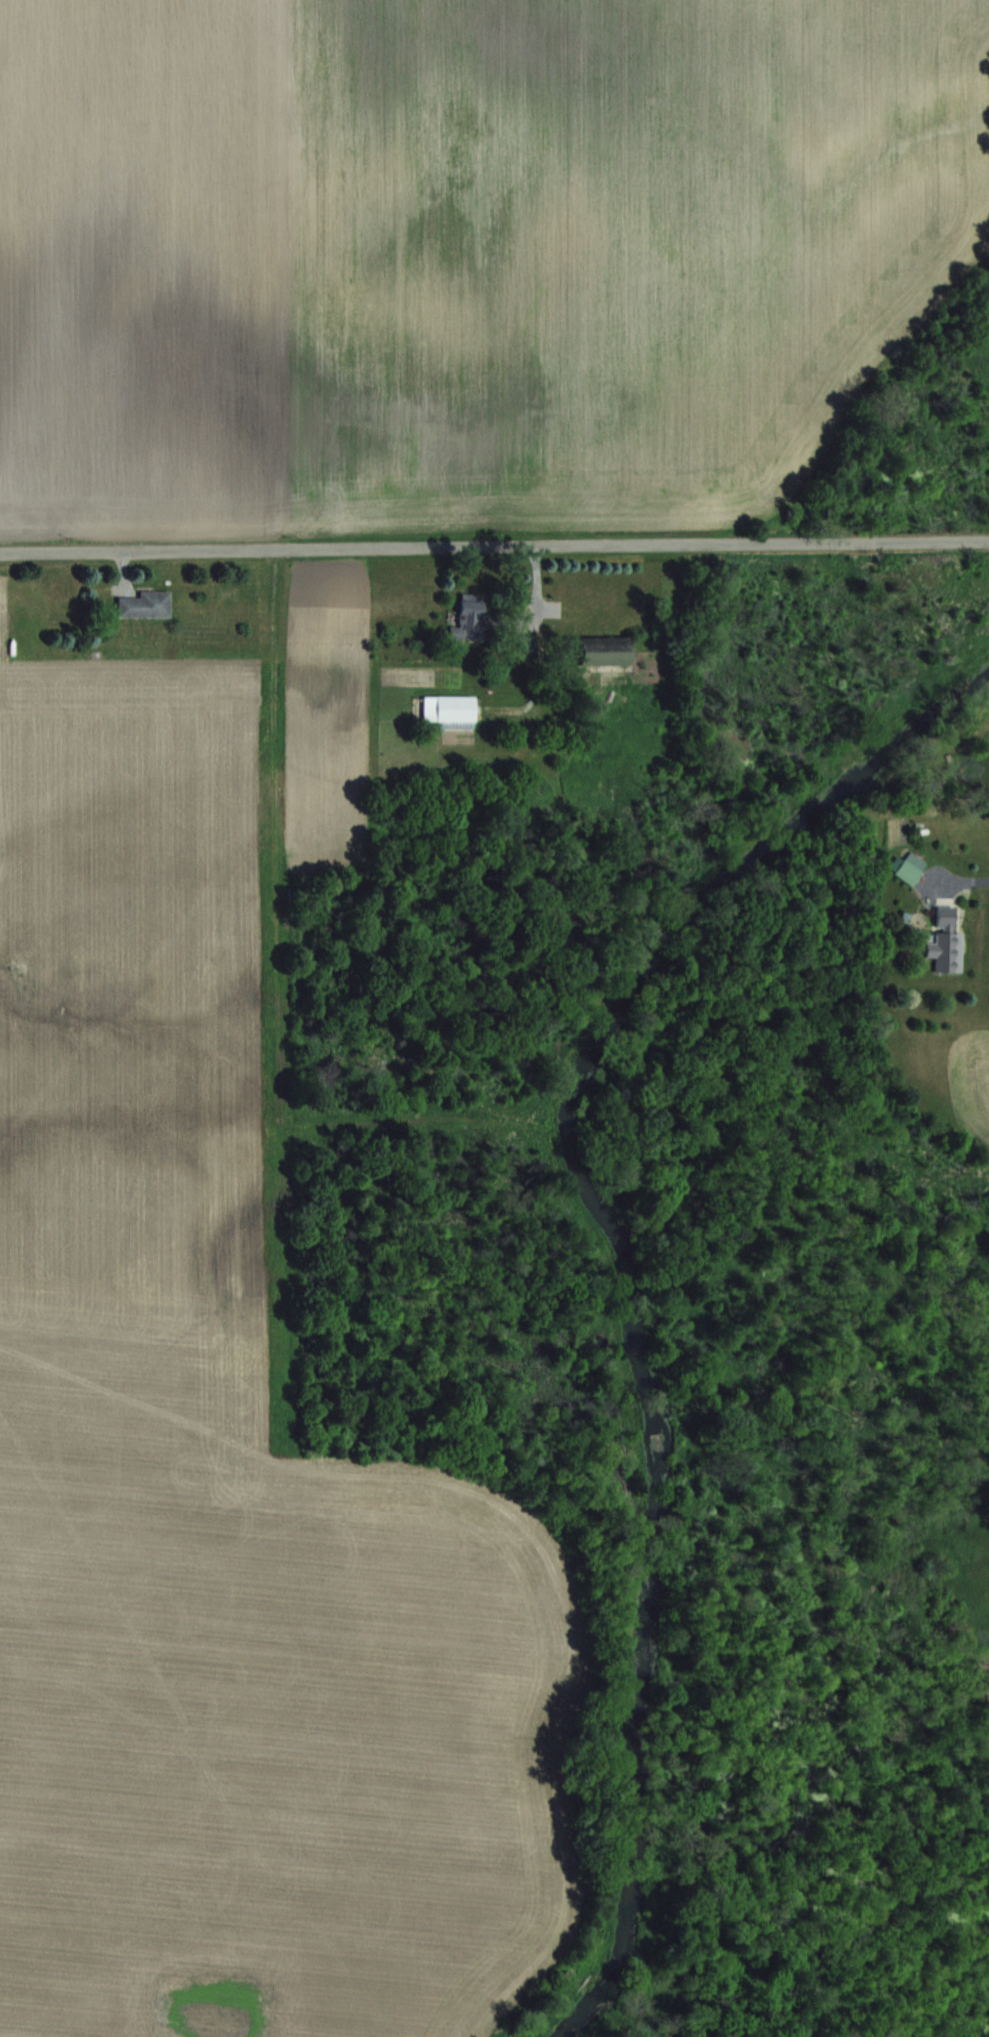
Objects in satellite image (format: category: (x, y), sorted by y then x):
road: (494, 544)
building: (141, 603)
building: (903, 871)
road: (964, 877)
building: (946, 941)

